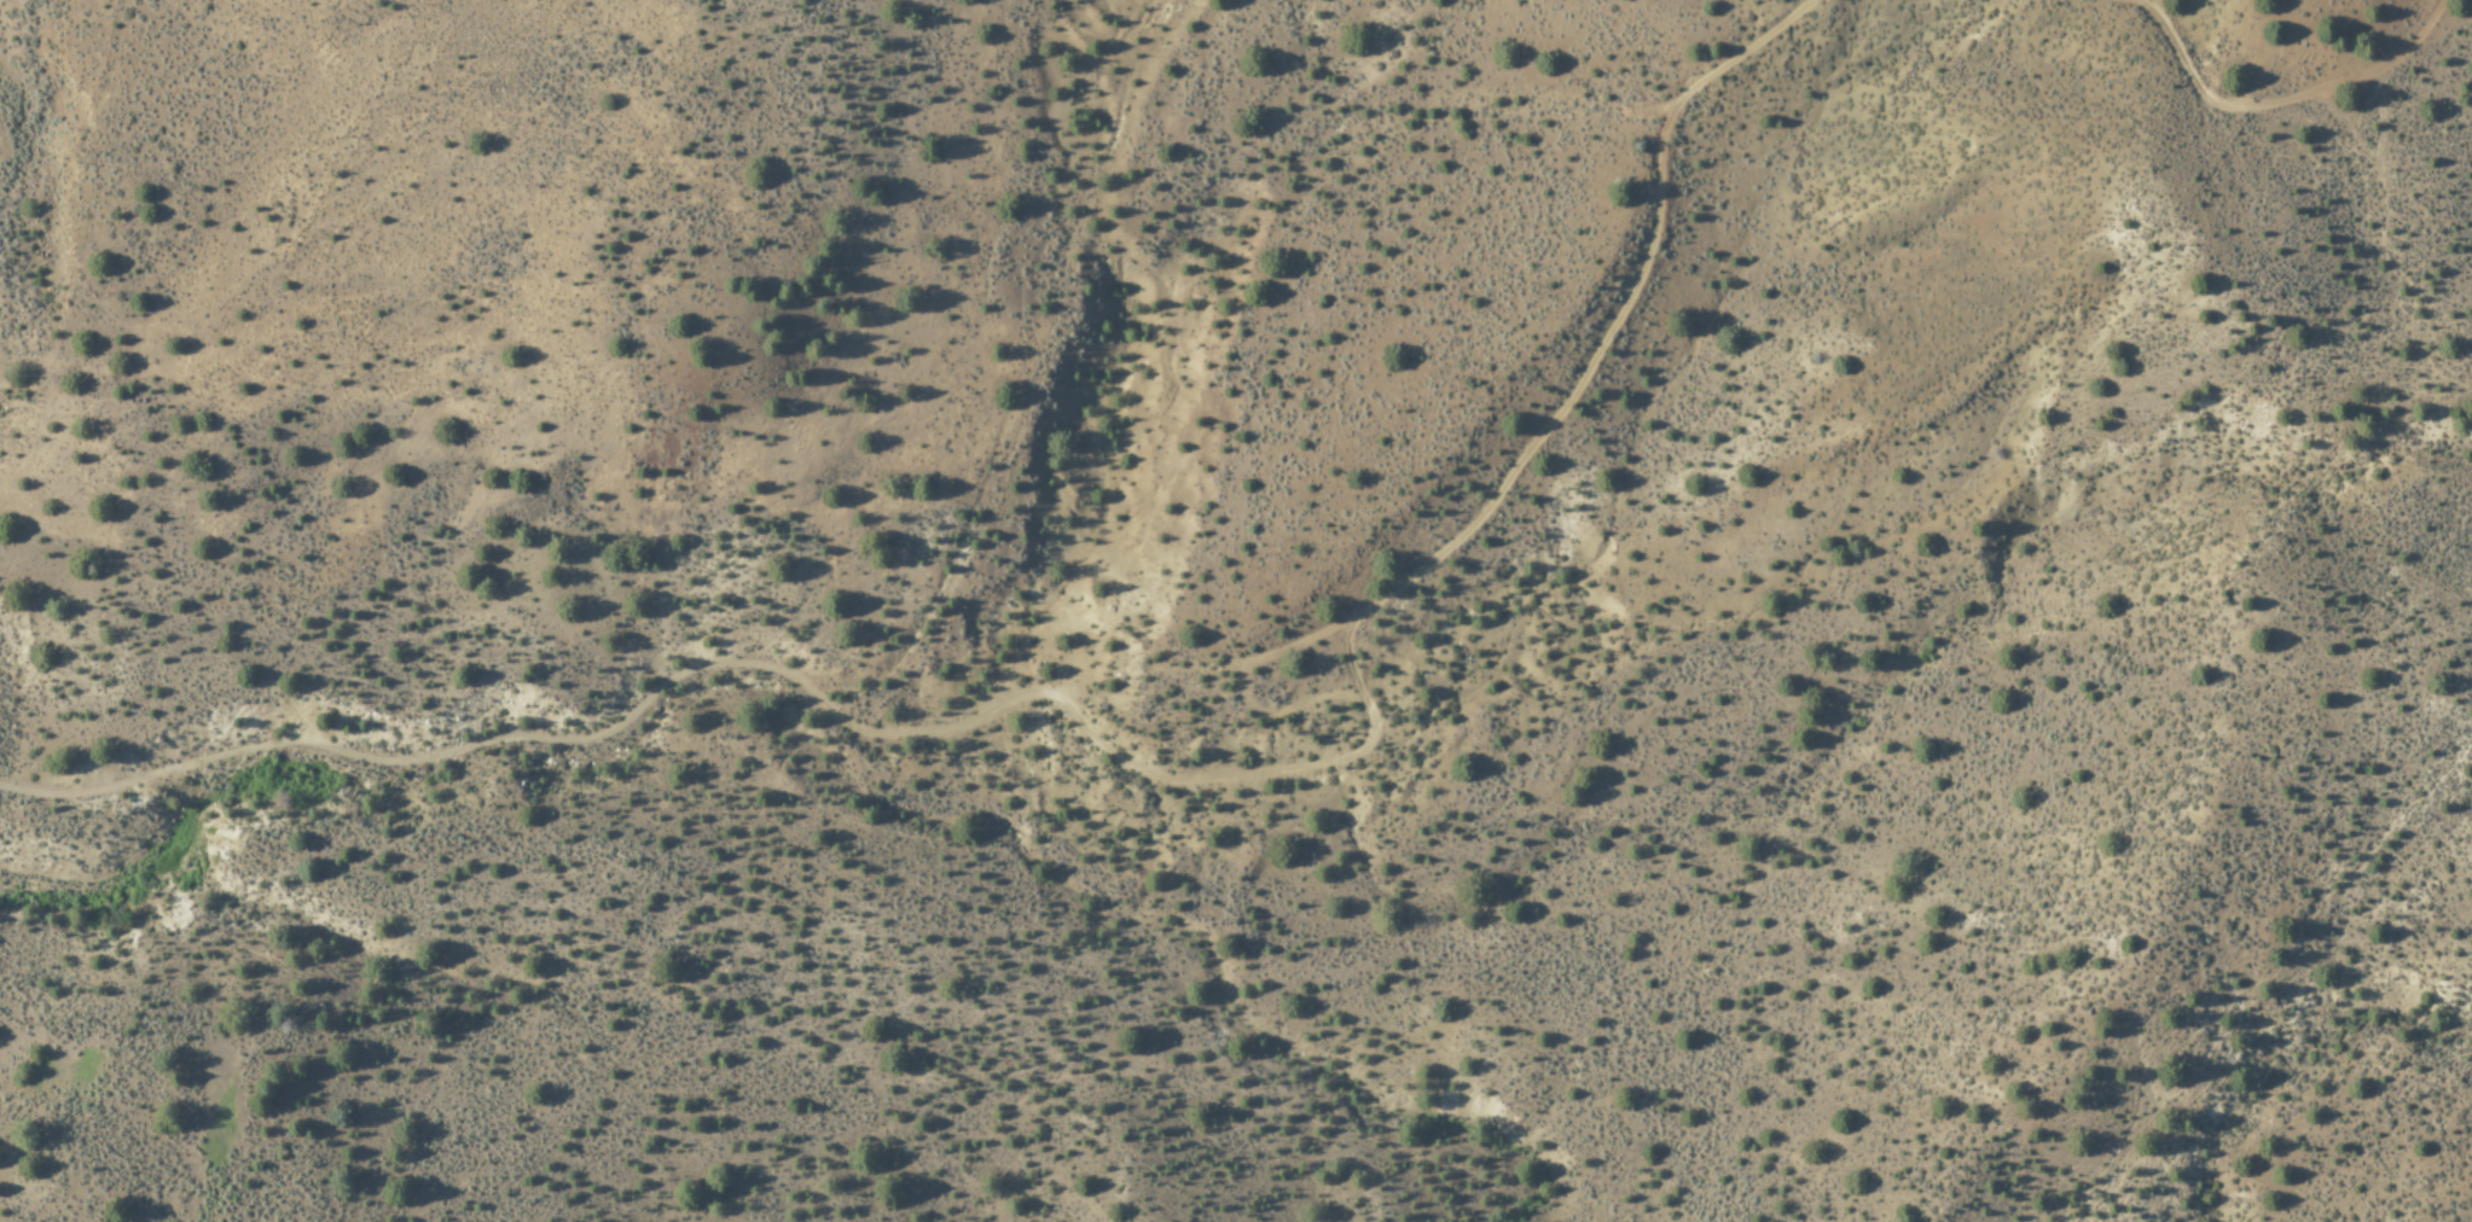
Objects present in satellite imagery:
road: (2320, 46)
road: (1112, 686)

